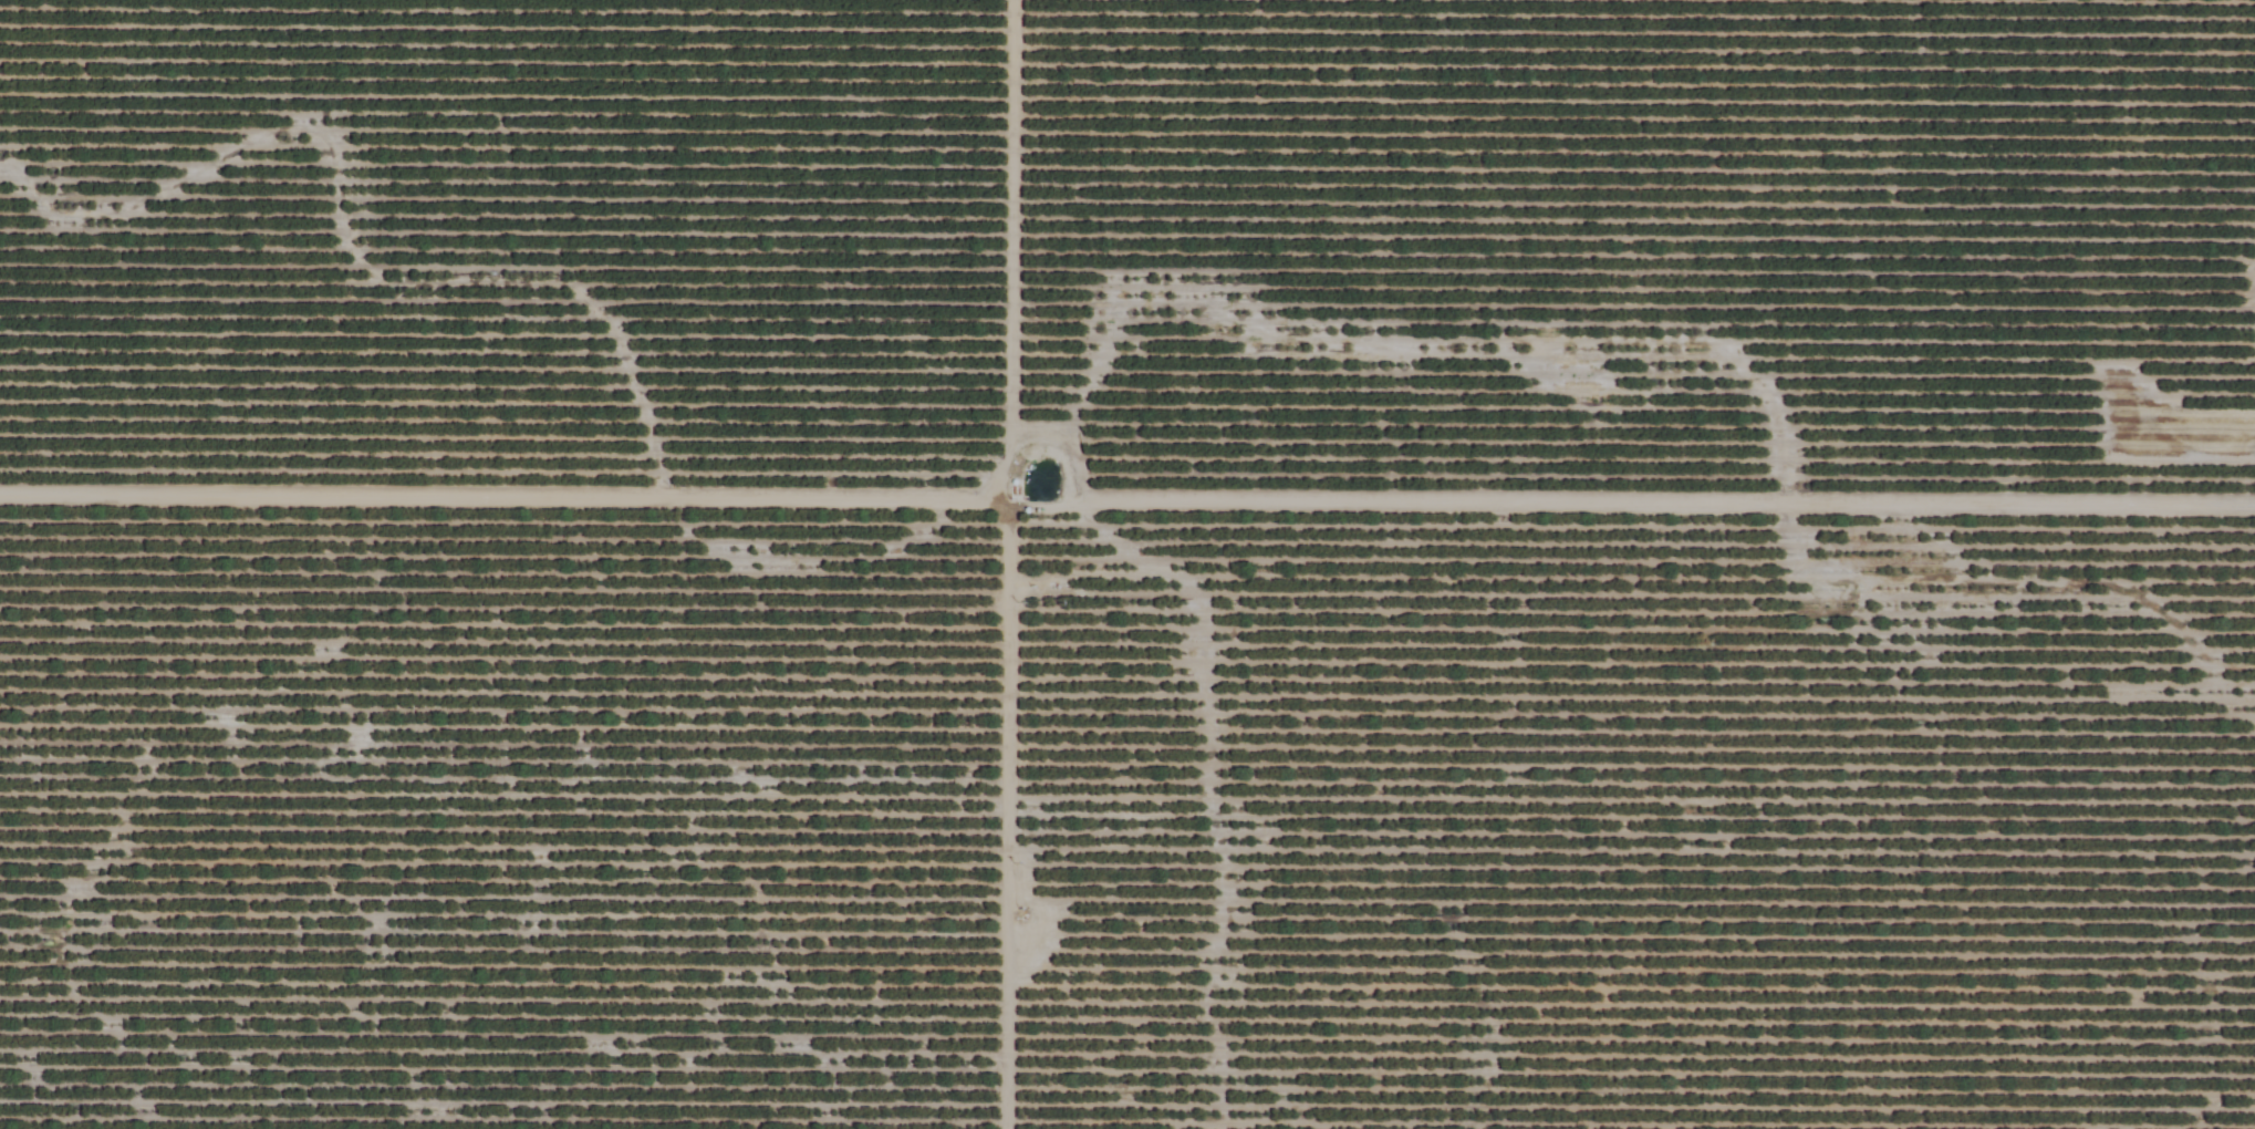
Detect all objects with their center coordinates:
crop: (1127, 564)

